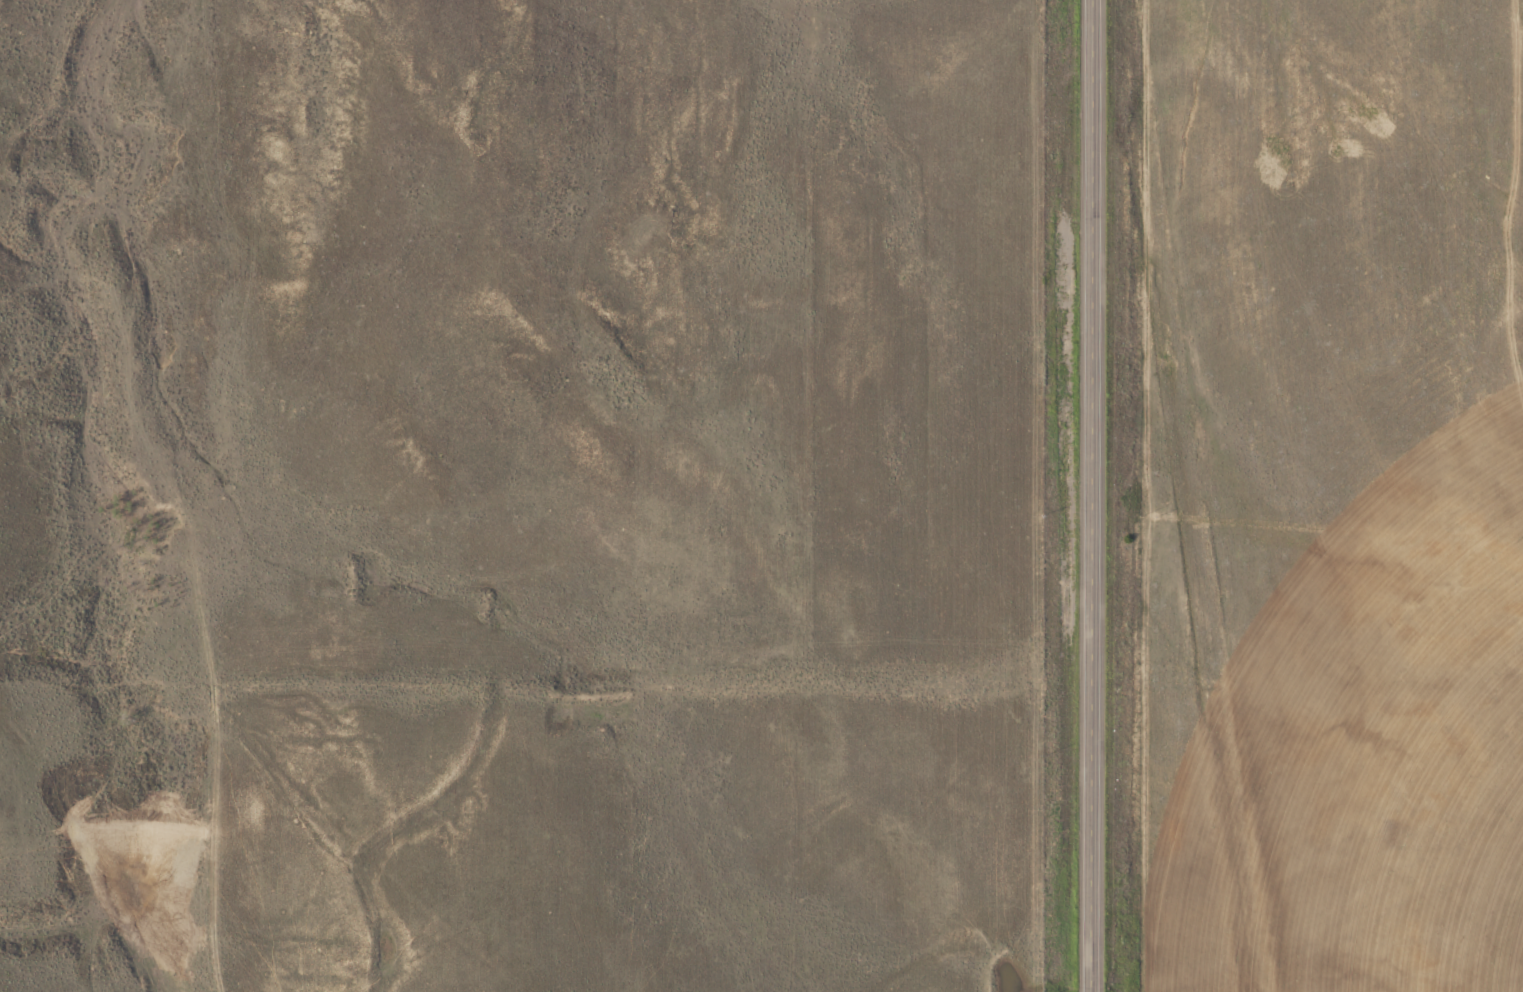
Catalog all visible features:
road: (1085, 496)

